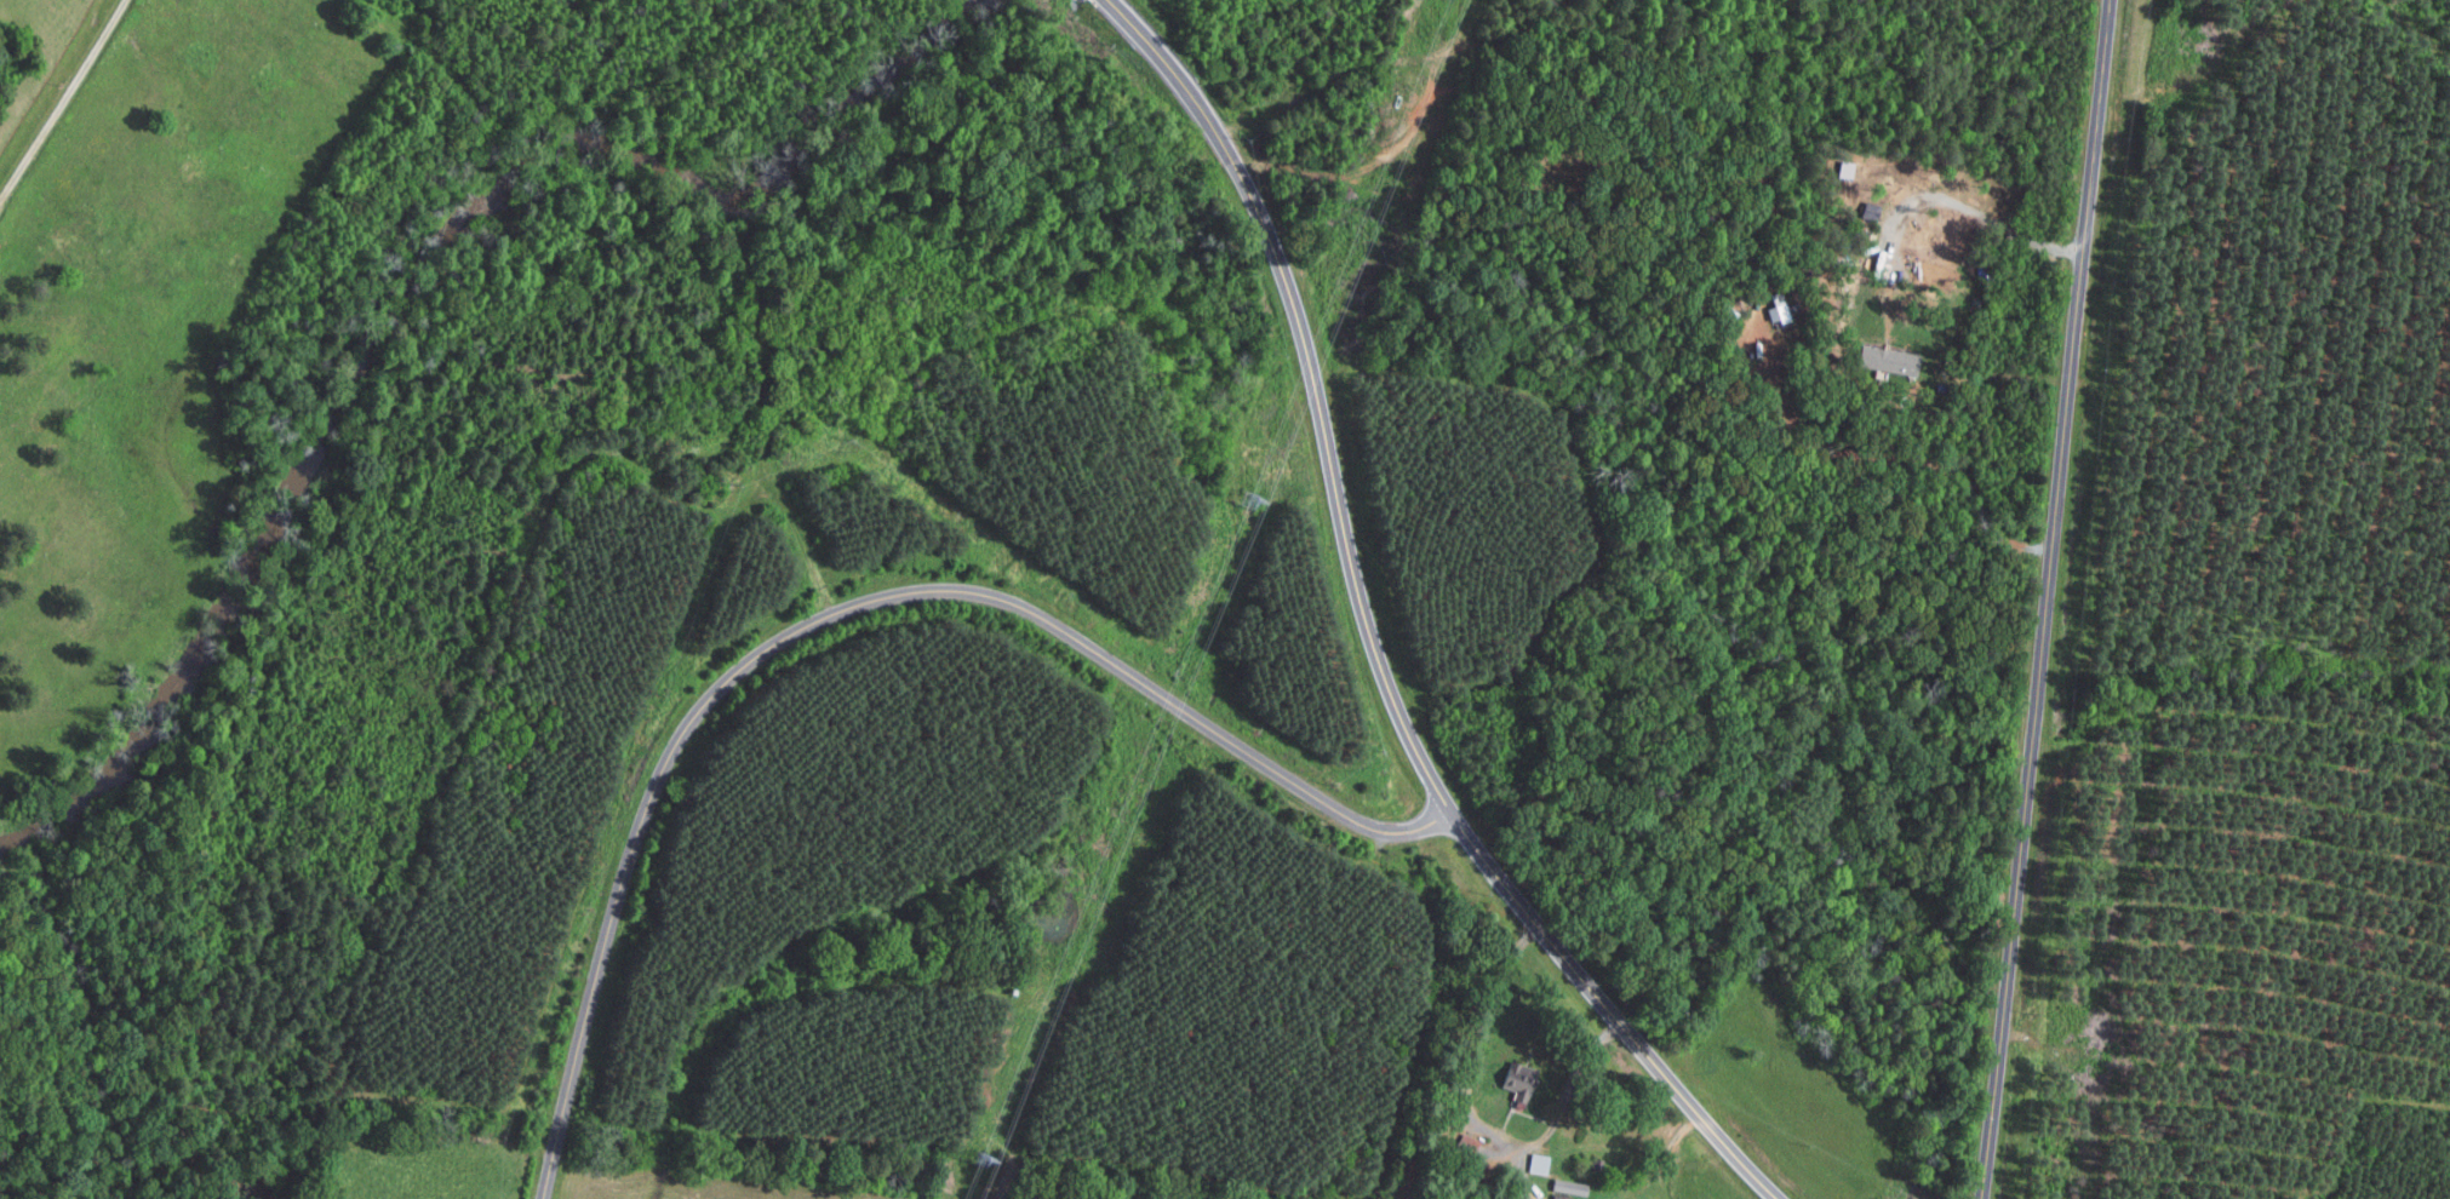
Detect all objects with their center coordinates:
road: (63, 101)
building: (1889, 362)
power tower: (1250, 503)
road: (2045, 599)
road: (836, 613)
road: (1370, 637)
building: (1522, 1079)
road: (1477, 1120)
power tower: (984, 1160)
building: (1573, 1187)

